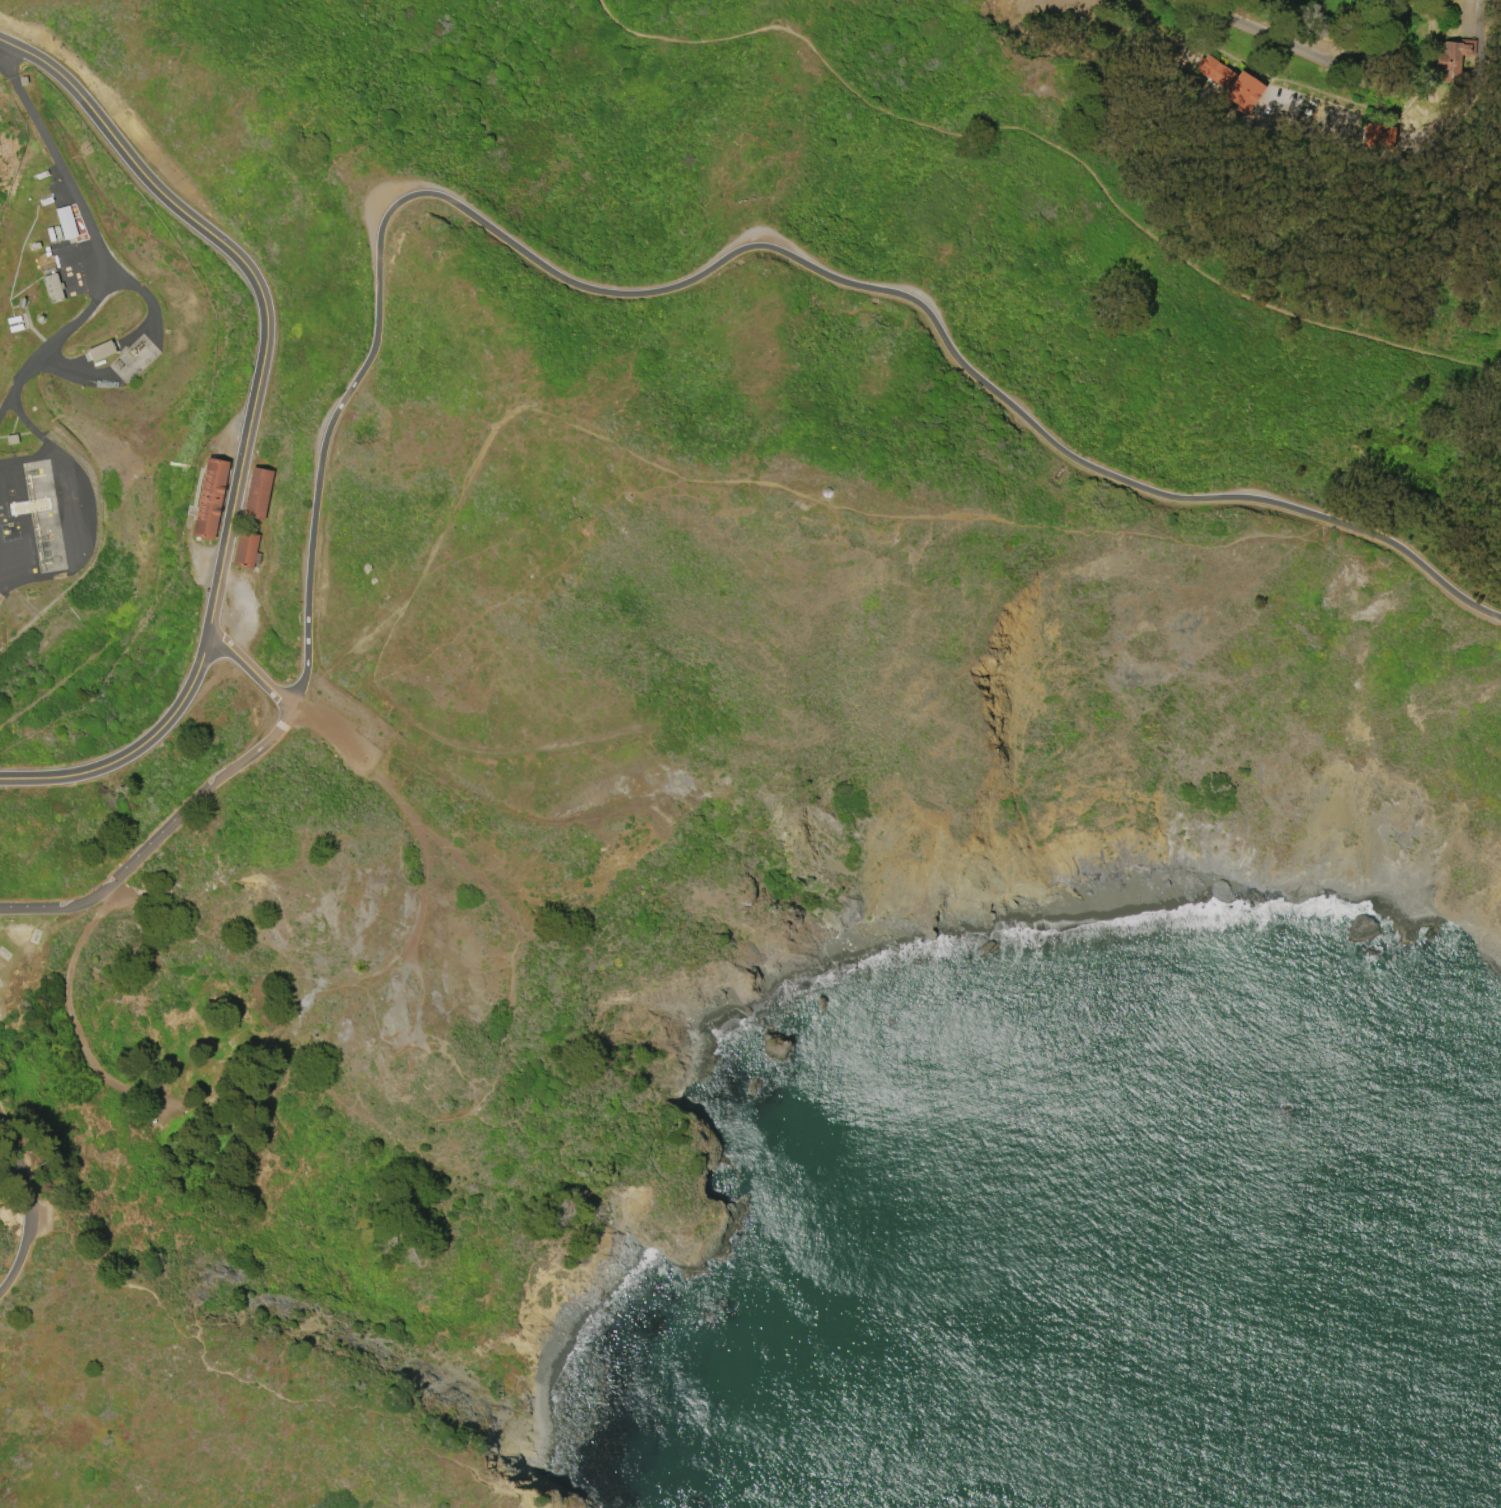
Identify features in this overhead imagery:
road: (1315, 52)
building: (1453, 61)
building: (1228, 81)
road: (1053, 145)
road: (1481, 159)
road: (1337, 160)
building: (68, 225)
road: (94, 241)
road: (730, 261)
road: (259, 285)
building: (52, 288)
building: (40, 318)
building: (12, 319)
building: (16, 327)
building: (102, 353)
road: (137, 353)
road: (33, 431)
building: (12, 441)
road: (749, 477)
building: (260, 495)
building: (212, 499)
road: (94, 522)
building: (249, 551)
road: (251, 665)
parking lot: (345, 725)
road: (133, 754)
road: (160, 840)
road: (421, 848)
road: (506, 909)
road: (69, 1016)
road: (28, 1211)
road: (261, 1386)

